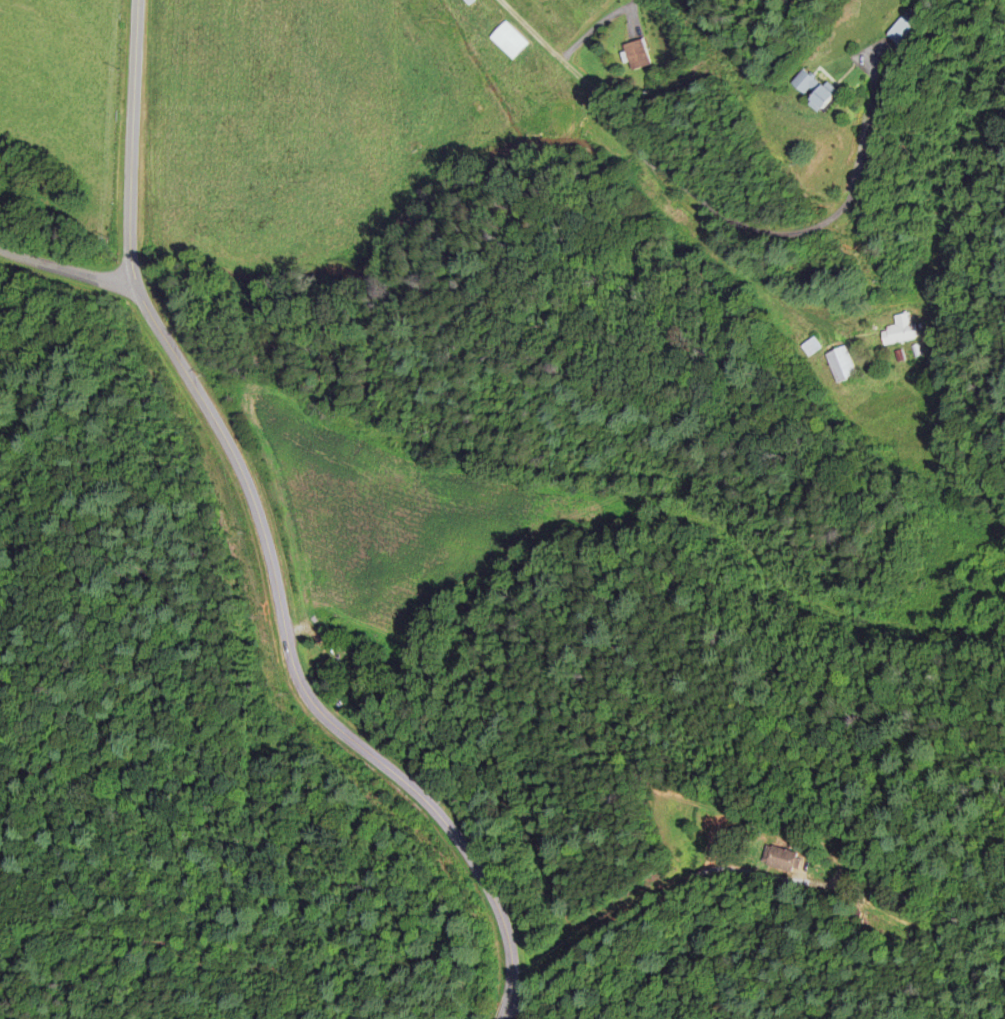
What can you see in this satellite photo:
road: (551, 6)
building: (901, 29)
building: (507, 41)
building: (636, 55)
building: (812, 92)
road: (680, 226)
road: (817, 230)
road: (65, 269)
building: (899, 331)
building: (810, 347)
building: (839, 365)
road: (257, 538)
building: (779, 860)
road: (633, 907)

